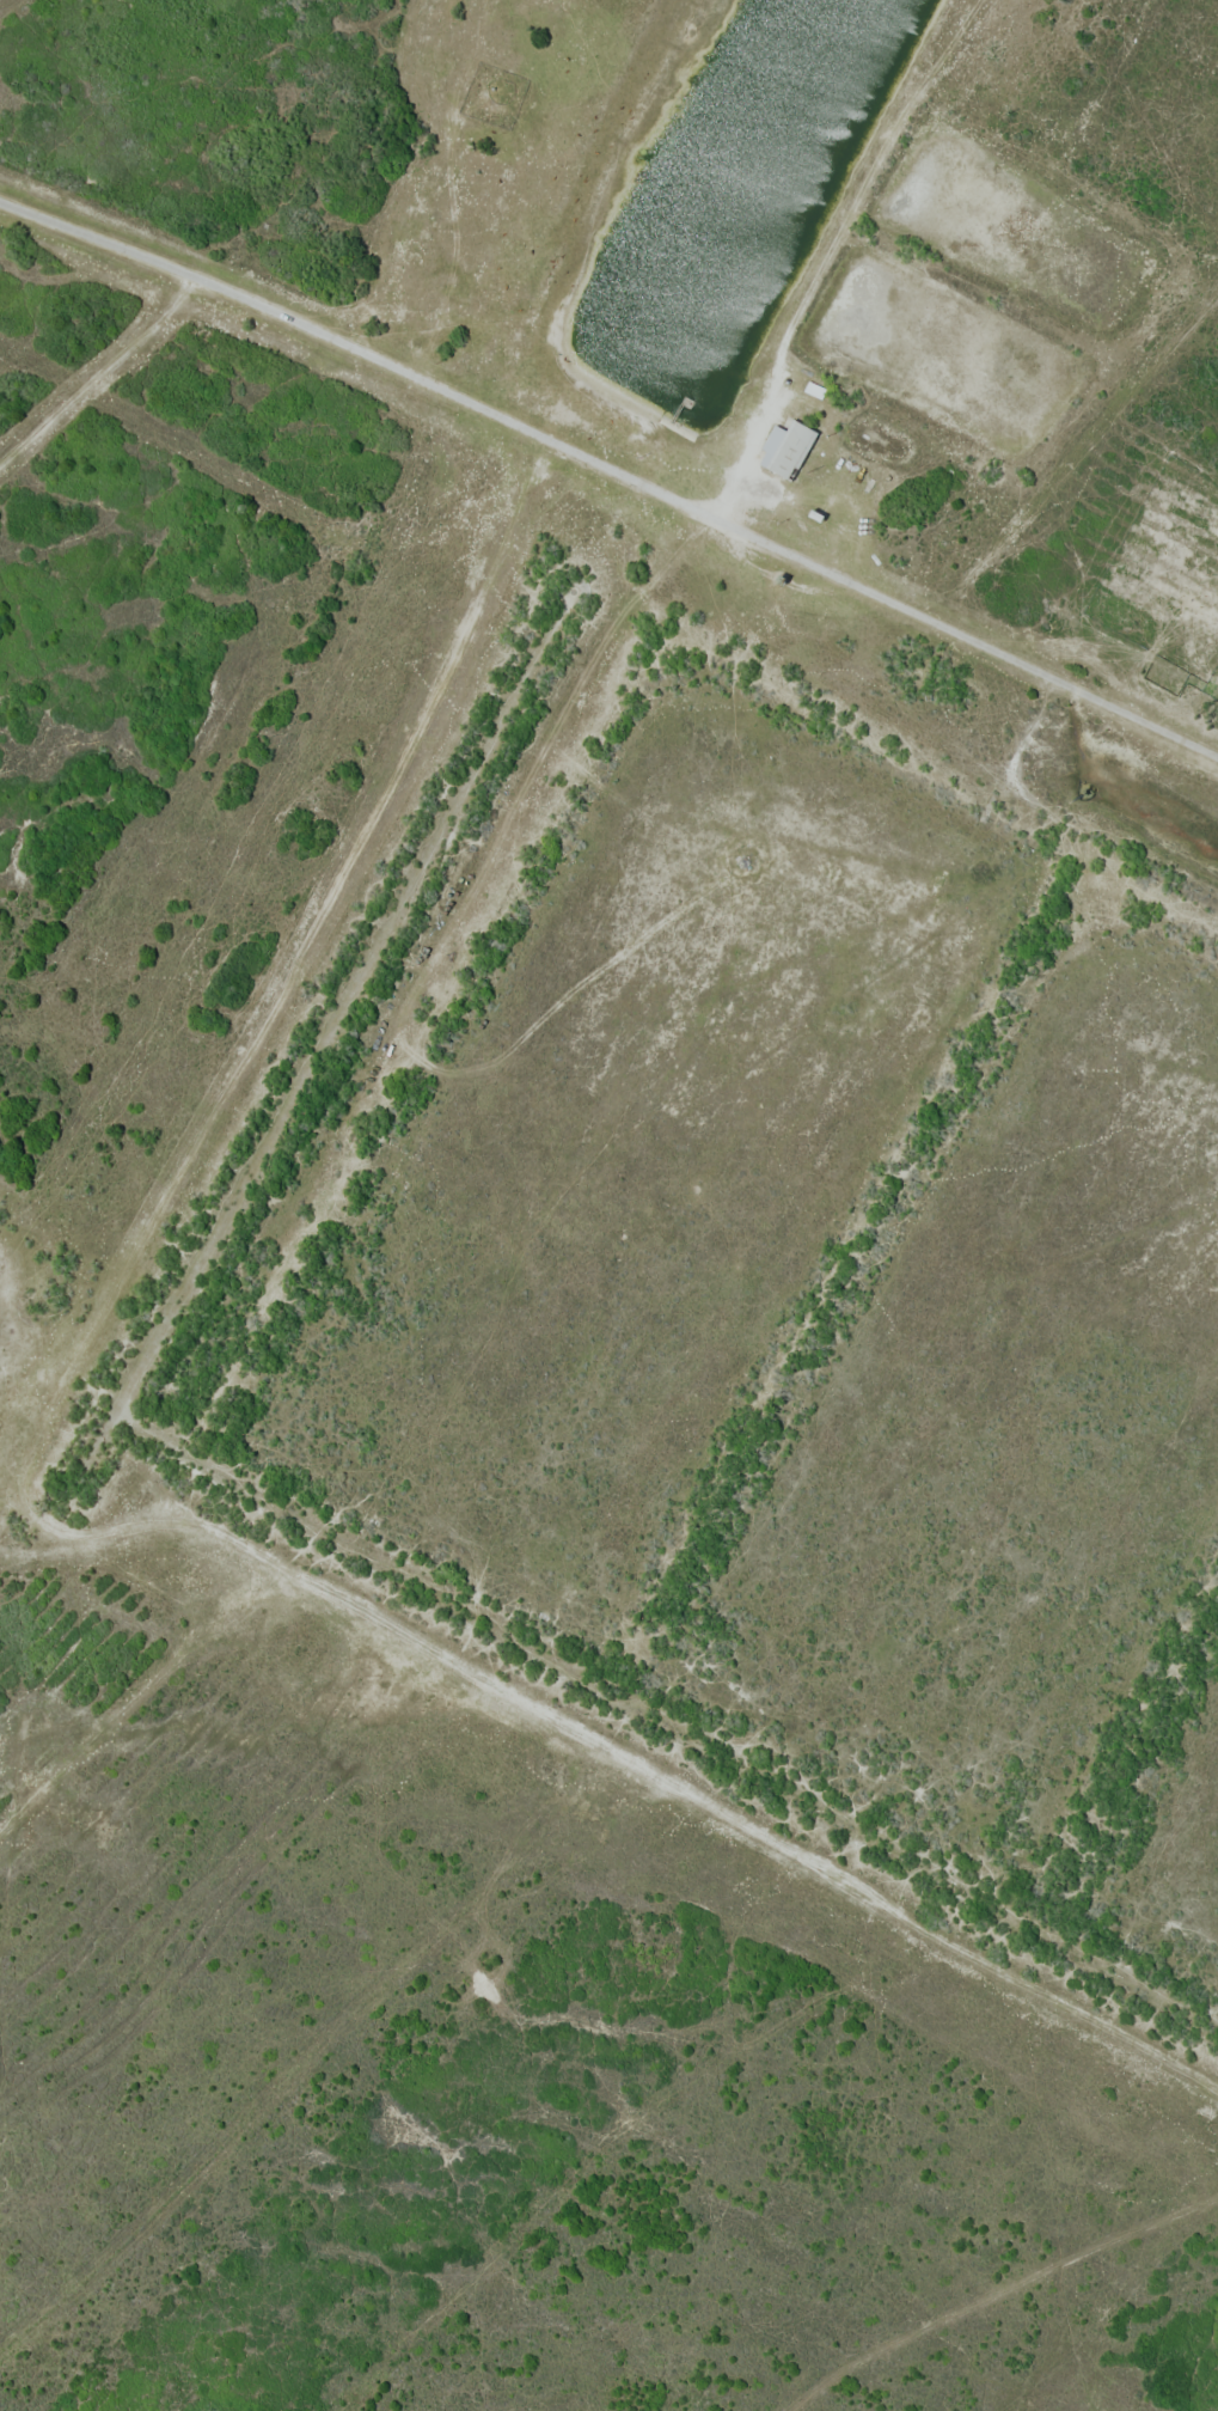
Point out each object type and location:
road: (100, 358)
road: (614, 439)
building: (787, 451)

